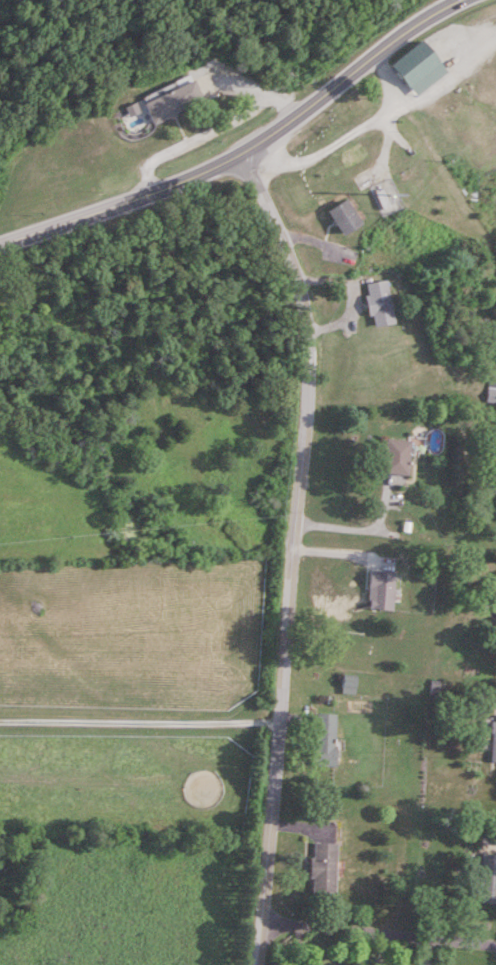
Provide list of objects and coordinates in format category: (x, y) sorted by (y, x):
building: (416, 60)
road: (443, 78)
road: (257, 87)
building: (173, 98)
road: (200, 136)
road: (344, 137)
road: (244, 151)
building: (342, 215)
road: (351, 299)
building: (379, 302)
building: (492, 398)
building: (396, 456)
building: (495, 478)
road: (353, 528)
road: (292, 552)
building: (377, 591)
building: (493, 607)
building: (349, 683)
road: (139, 721)
building: (324, 739)
building: (494, 740)
building: (322, 868)
building: (486, 879)
road: (379, 931)

